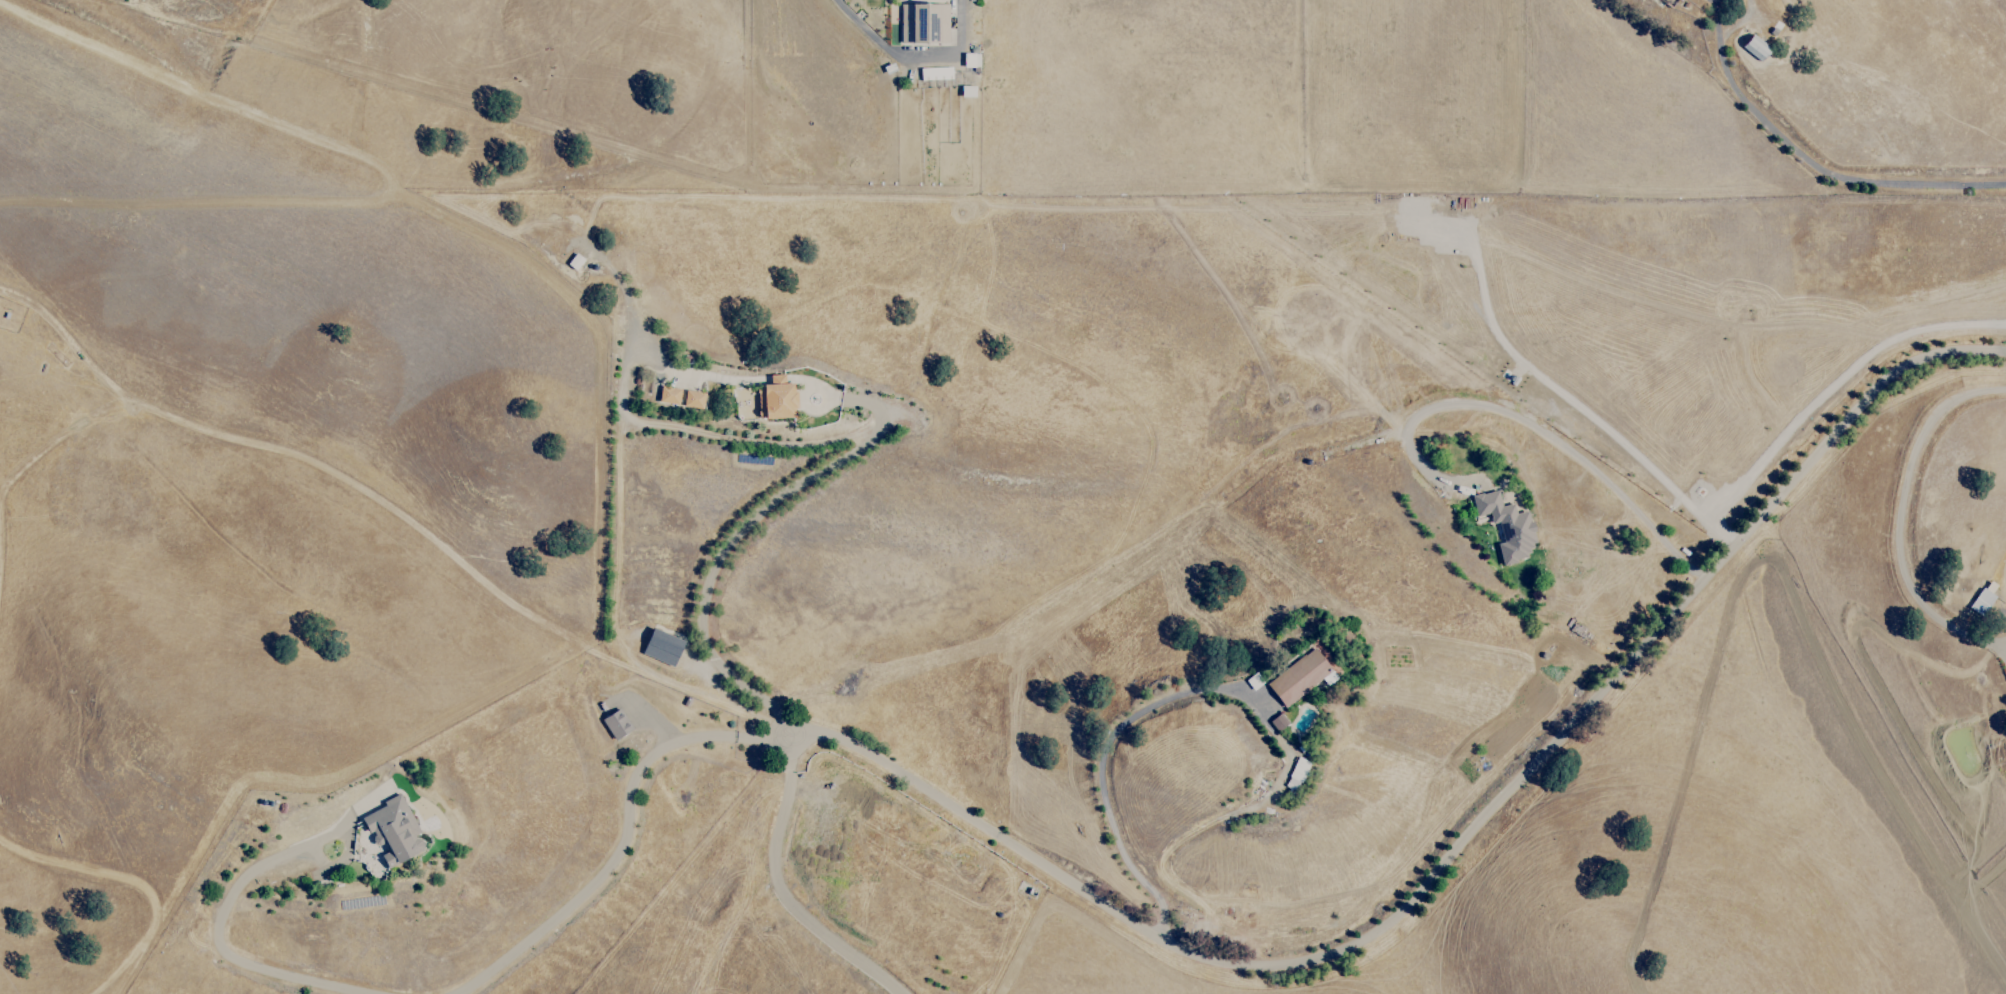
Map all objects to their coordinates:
building: (925, 25)
building: (1753, 48)
road: (912, 60)
building: (934, 74)
road: (1826, 174)
building: (574, 262)
building: (668, 396)
building: (777, 399)
building: (691, 400)
road: (1535, 431)
road: (1897, 517)
building: (1520, 533)
road: (722, 551)
building: (1979, 602)
building: (661, 648)
building: (1277, 722)
building: (615, 724)
road: (708, 738)
road: (1099, 761)
building: (1295, 774)
building: (386, 837)
road: (1458, 852)
road: (590, 885)
road: (777, 889)
road: (217, 928)

